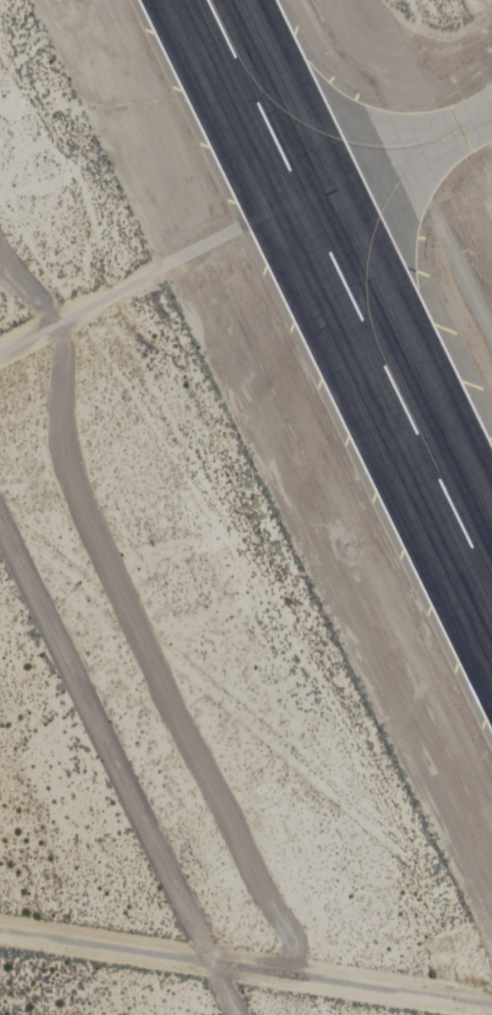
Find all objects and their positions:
airport taxiway: (399, 156)
airport runway: (350, 293)
airport: (246, 507)

